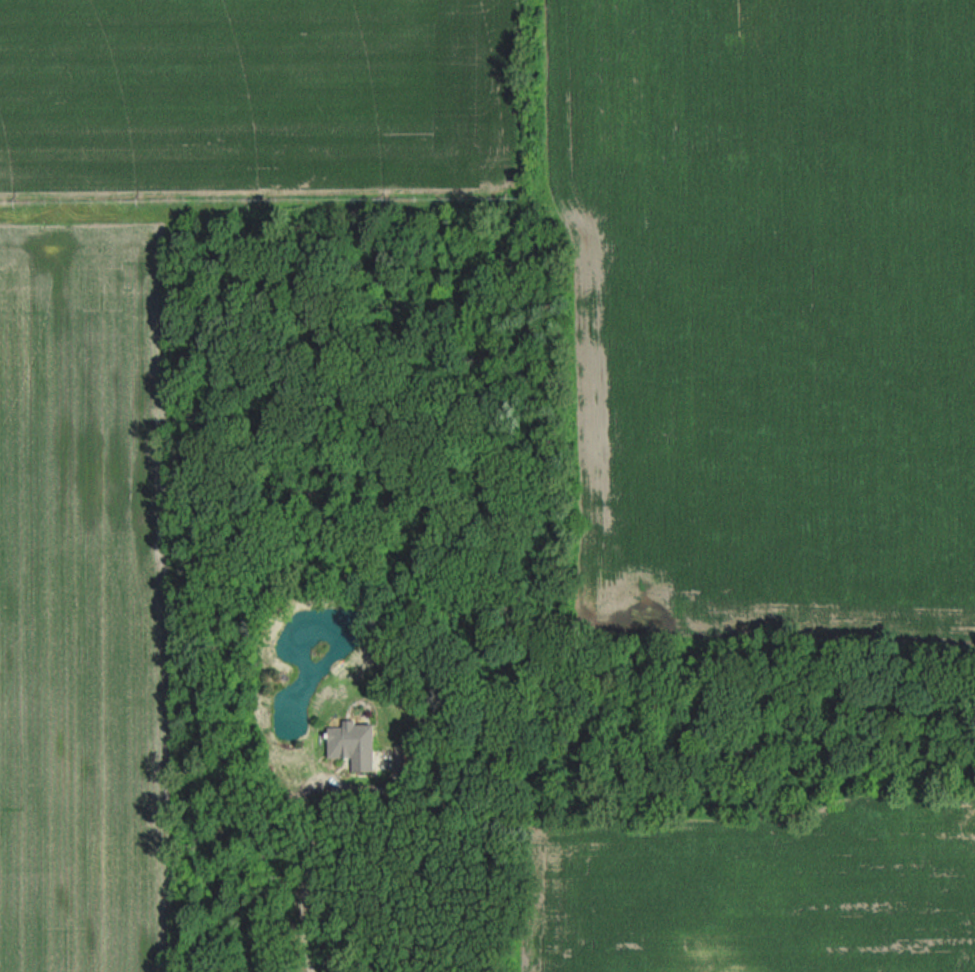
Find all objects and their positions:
road: (306, 886)

